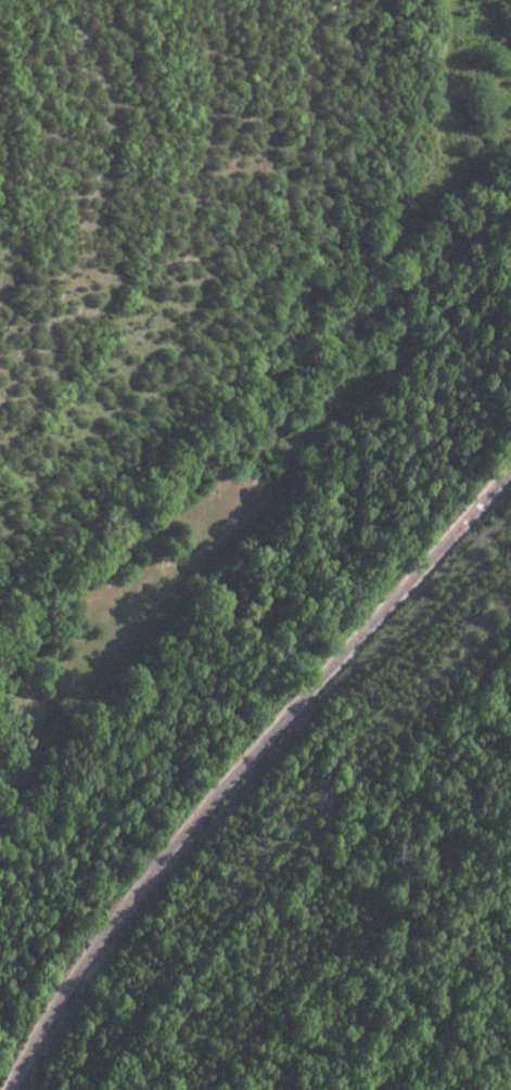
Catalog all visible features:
railway: (241, 766)

